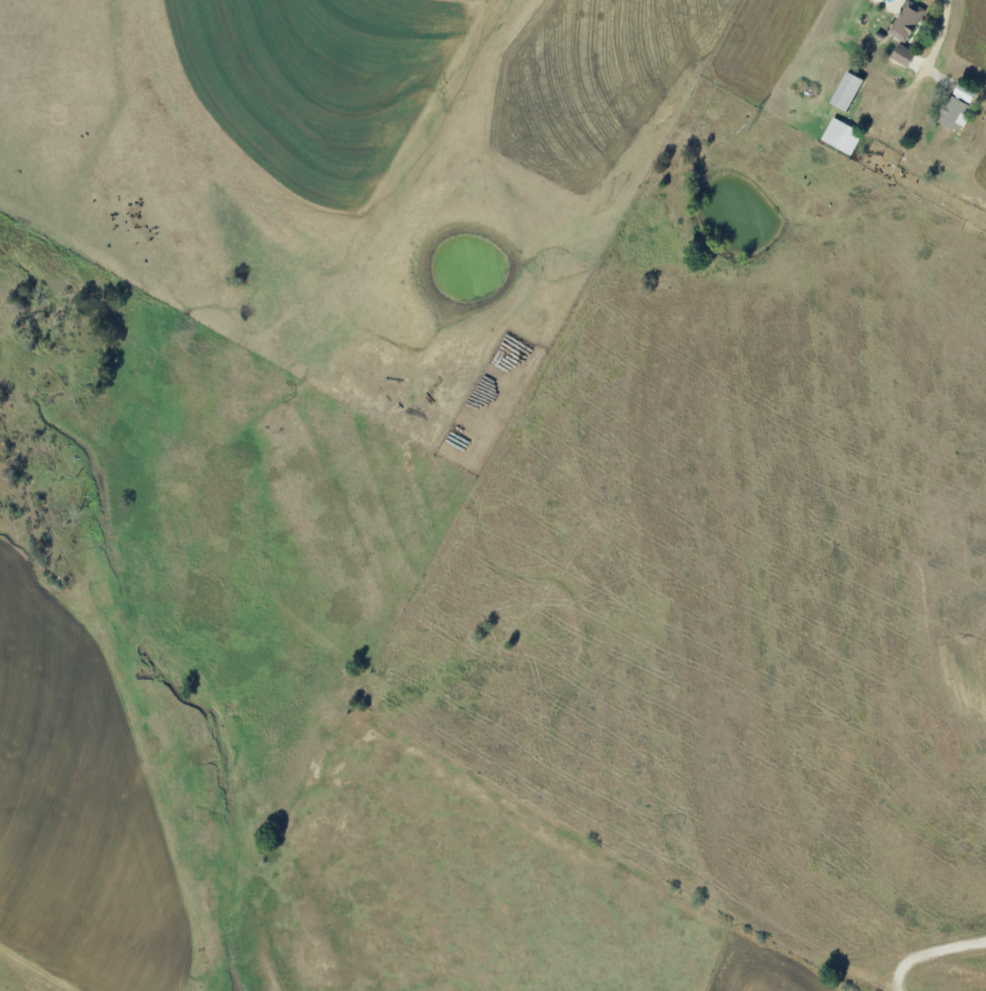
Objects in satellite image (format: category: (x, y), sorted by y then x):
building: (906, 21)
building: (902, 55)
road: (928, 58)
building: (846, 91)
building: (964, 93)
building: (952, 114)
power tower: (754, 125)
building: (841, 136)
crop: (13, 983)

